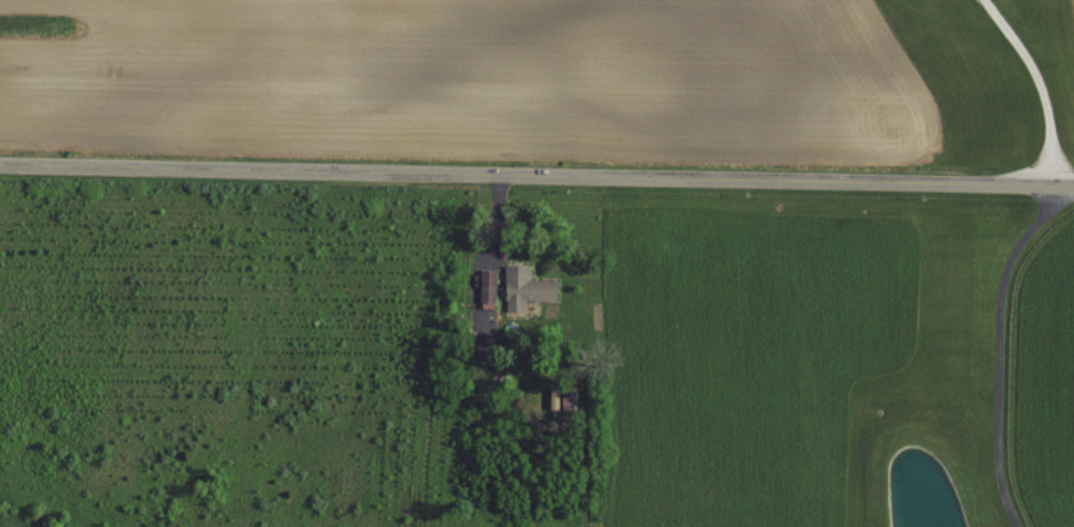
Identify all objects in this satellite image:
road: (1040, 84)
road: (536, 174)
road: (998, 350)

